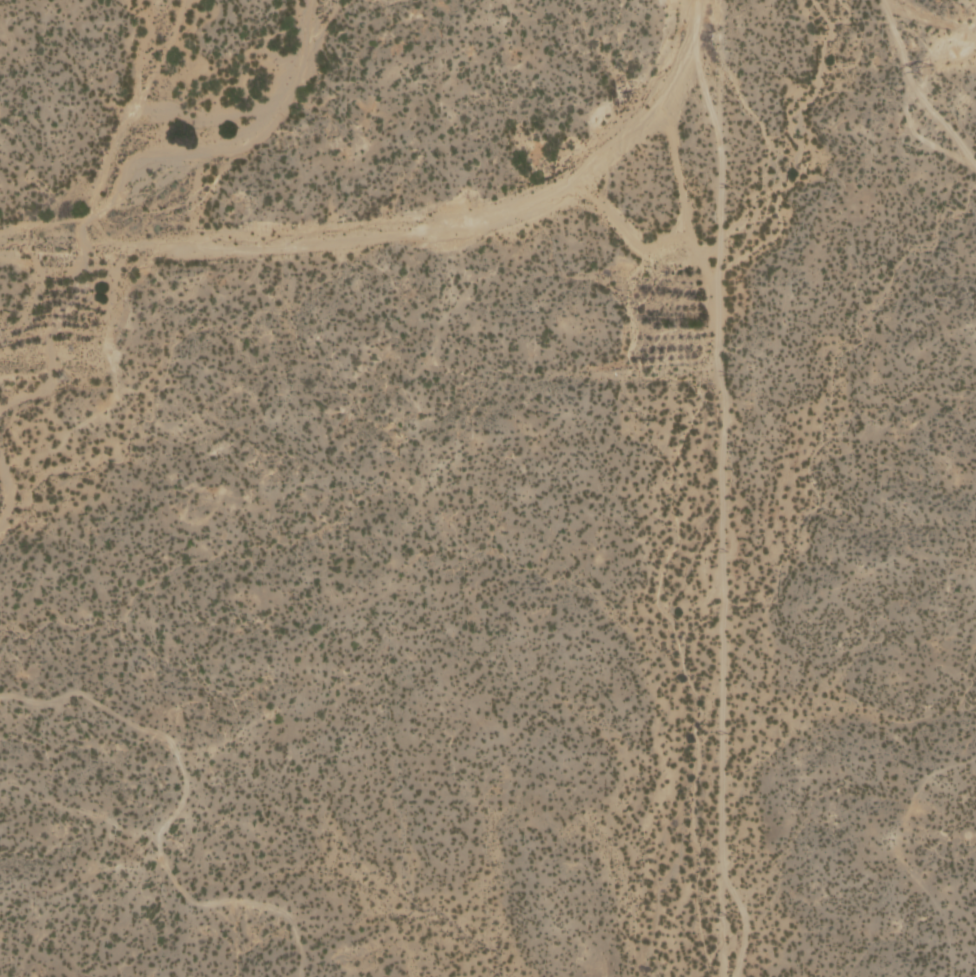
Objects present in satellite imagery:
road: (942, 59)
power tower: (926, 68)
road: (915, 89)
road: (721, 487)

